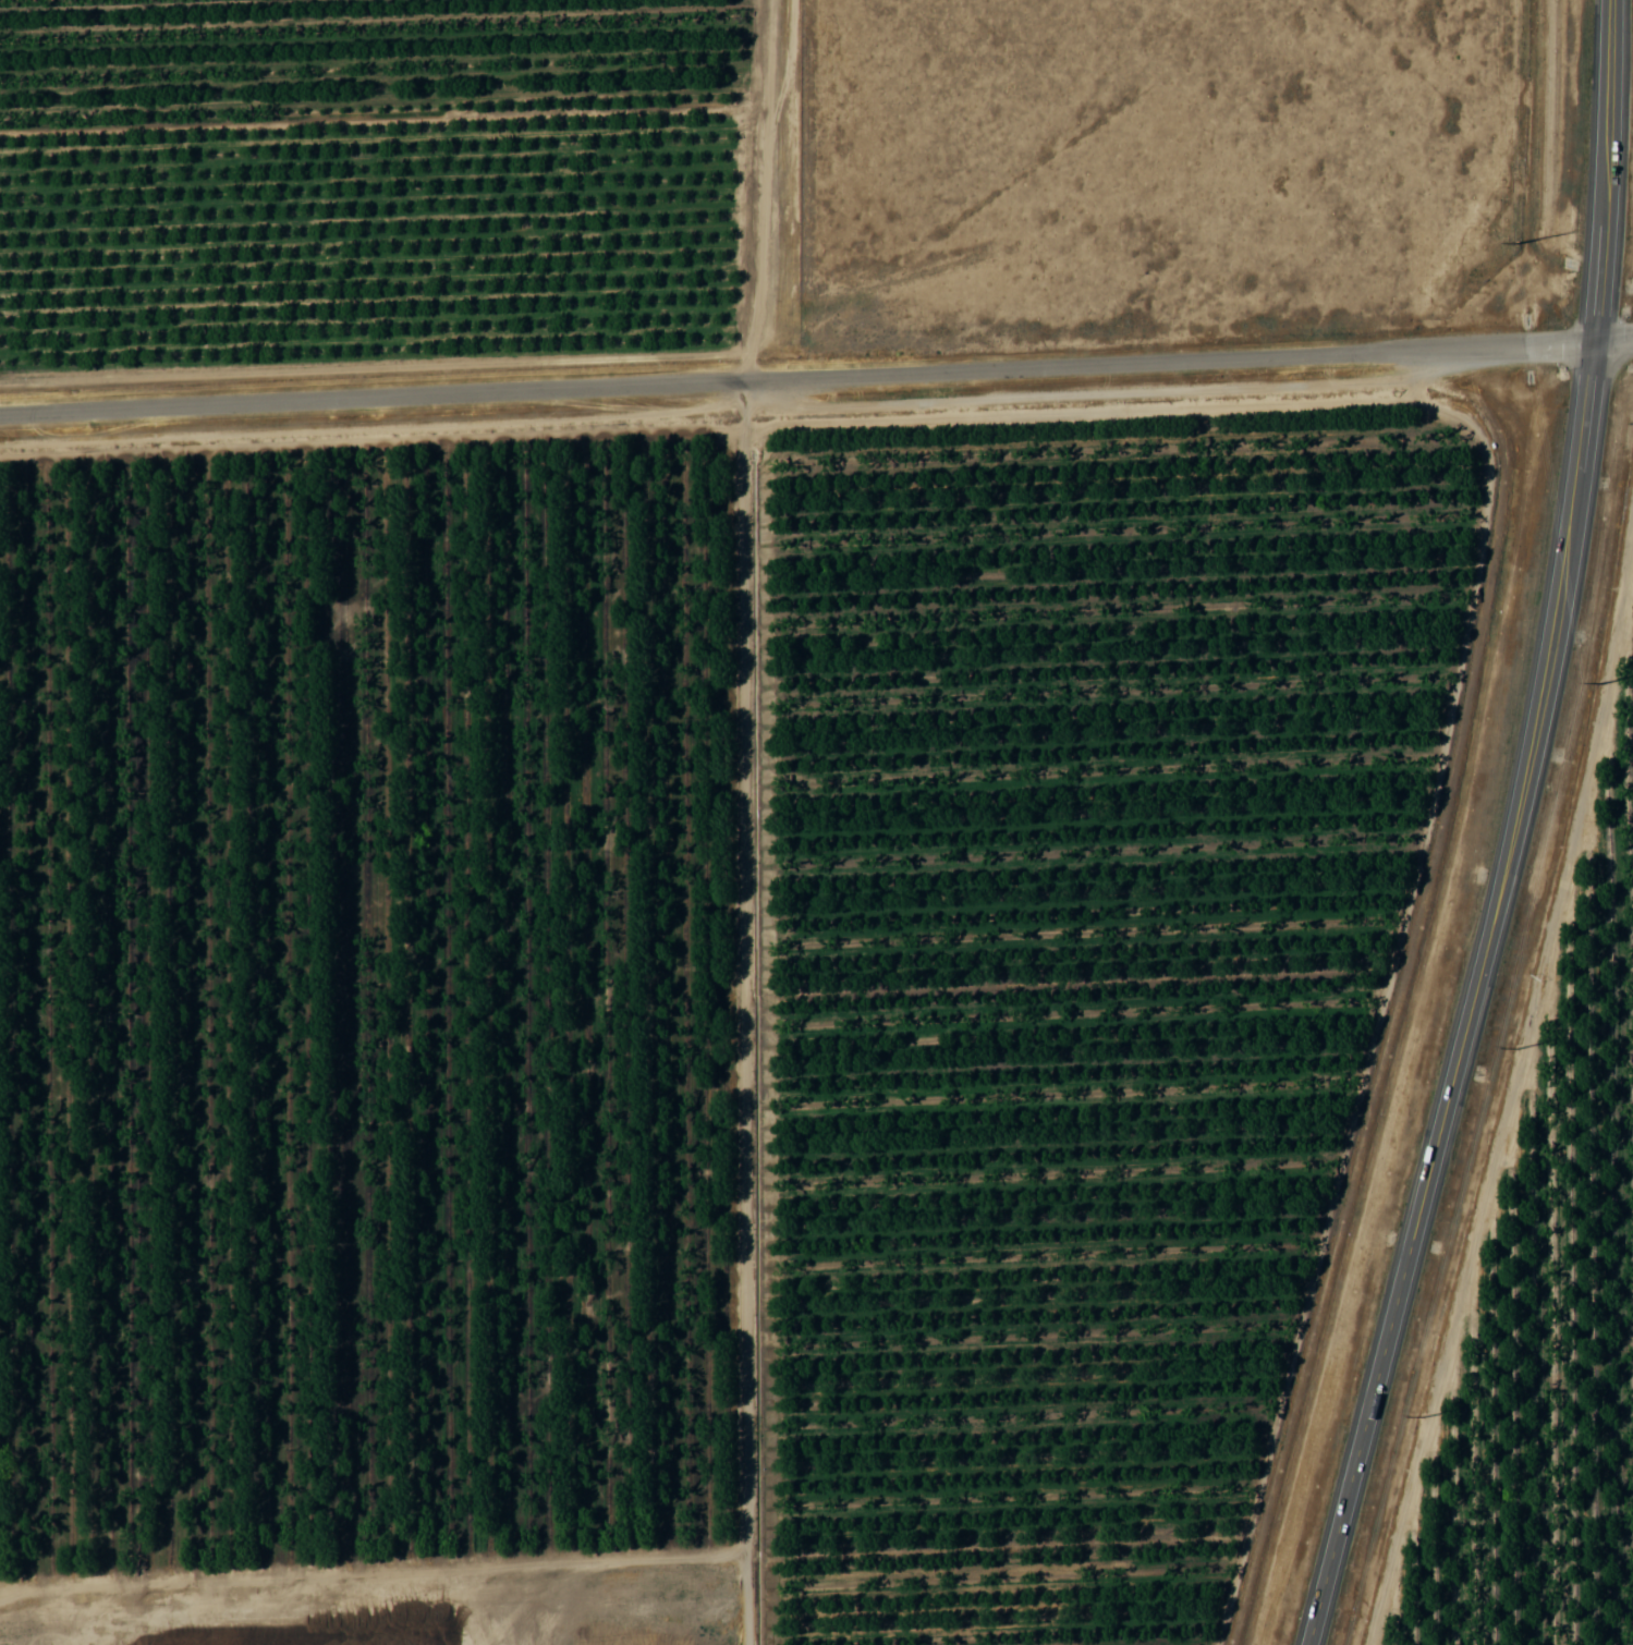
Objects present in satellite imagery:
road: (1606, 170)
road: (760, 191)
road: (1612, 340)
road: (796, 378)
road: (1473, 997)

